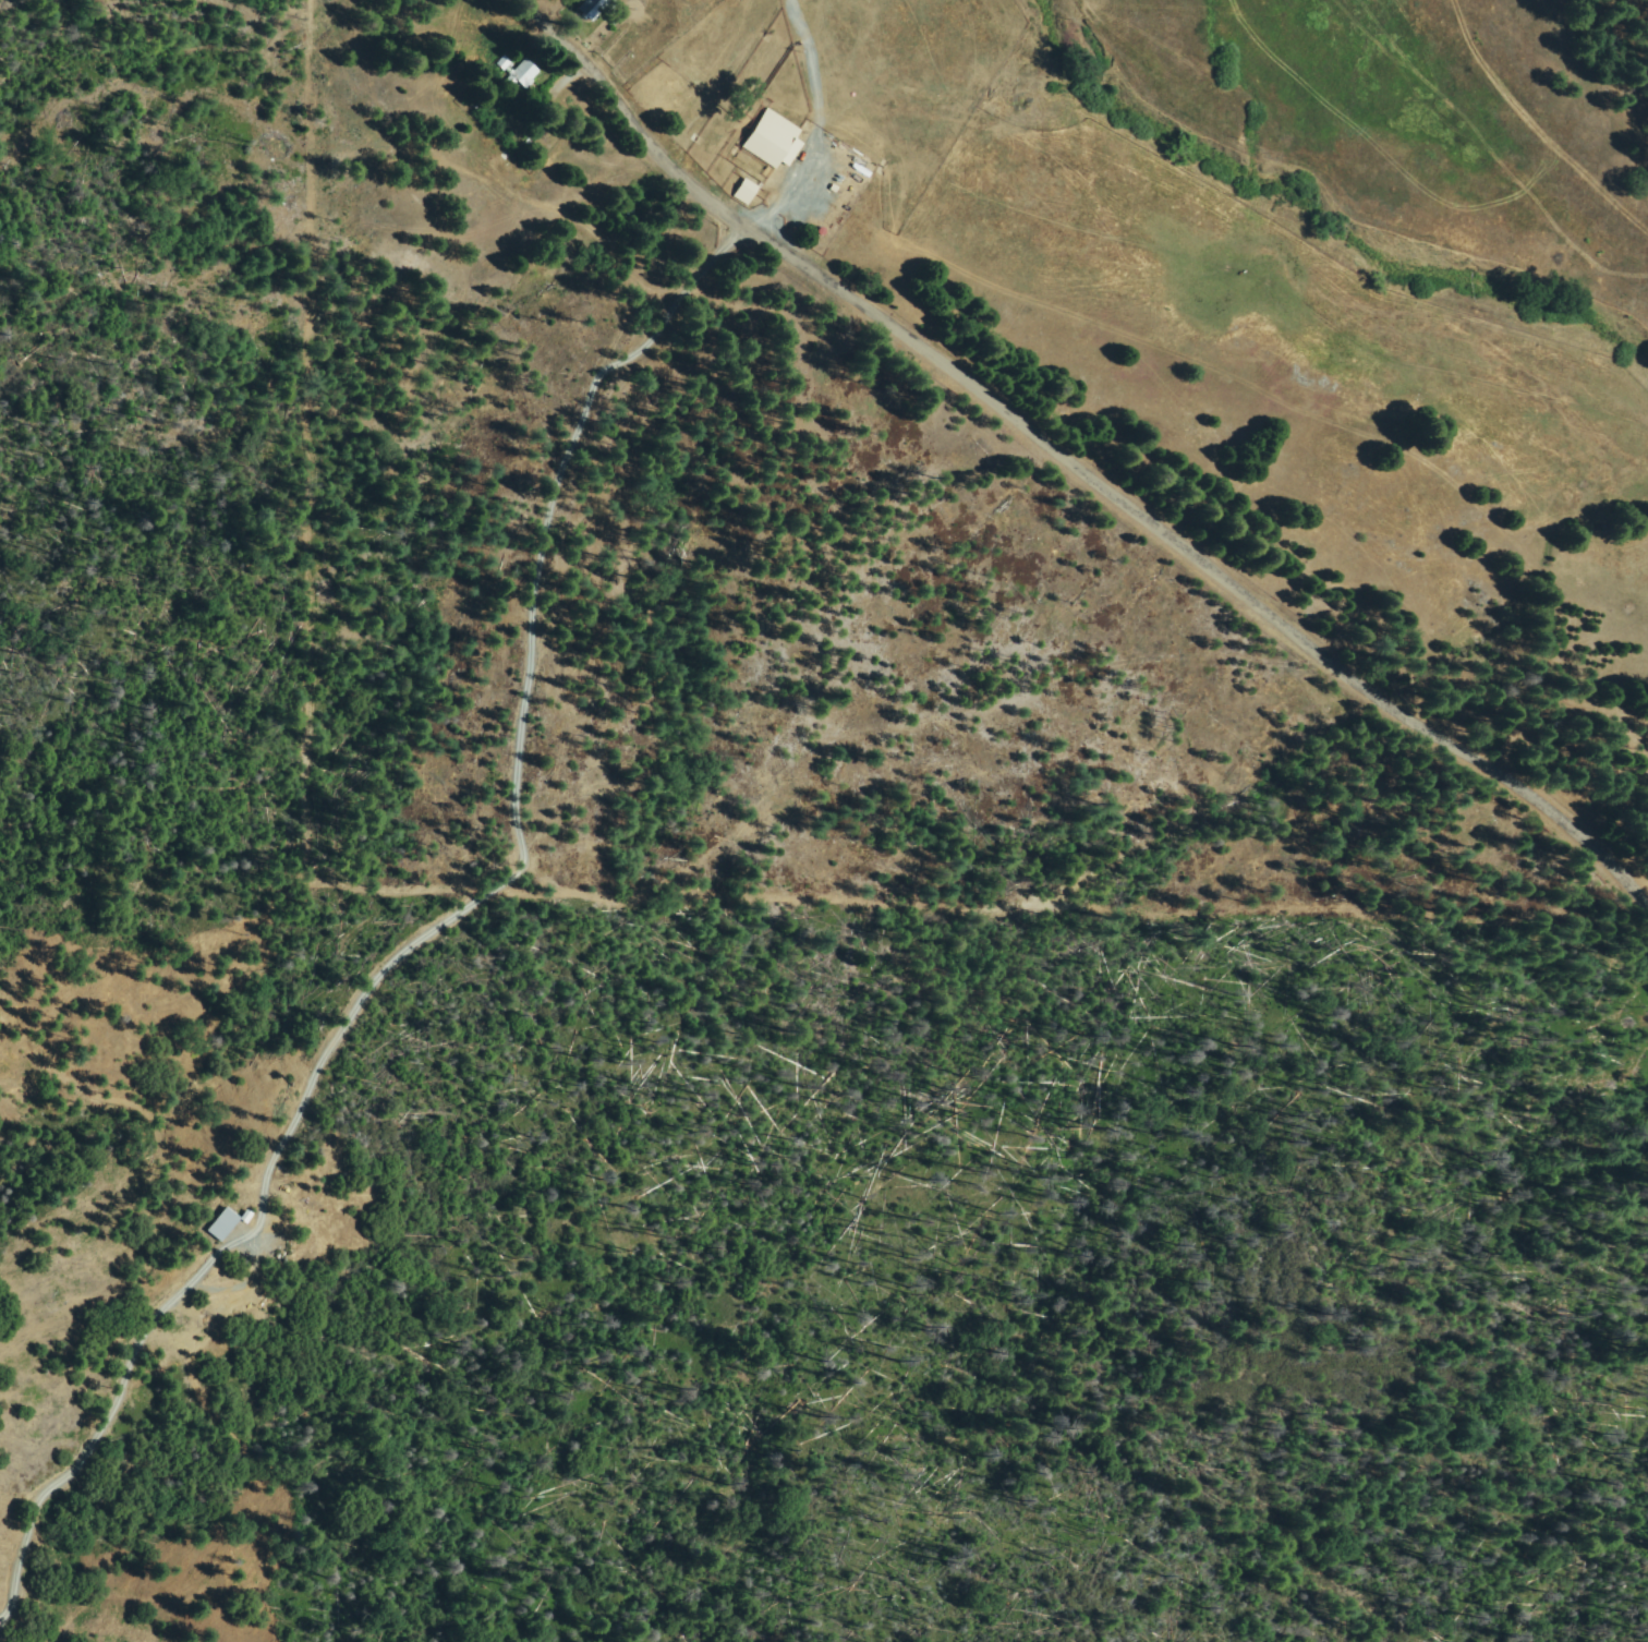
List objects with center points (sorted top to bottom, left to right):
building: (589, 9)
road: (666, 49)
building: (506, 61)
building: (526, 73)
building: (775, 138)
building: (747, 191)
road: (1082, 469)
road: (1638, 900)
building: (247, 1216)
building: (225, 1224)

